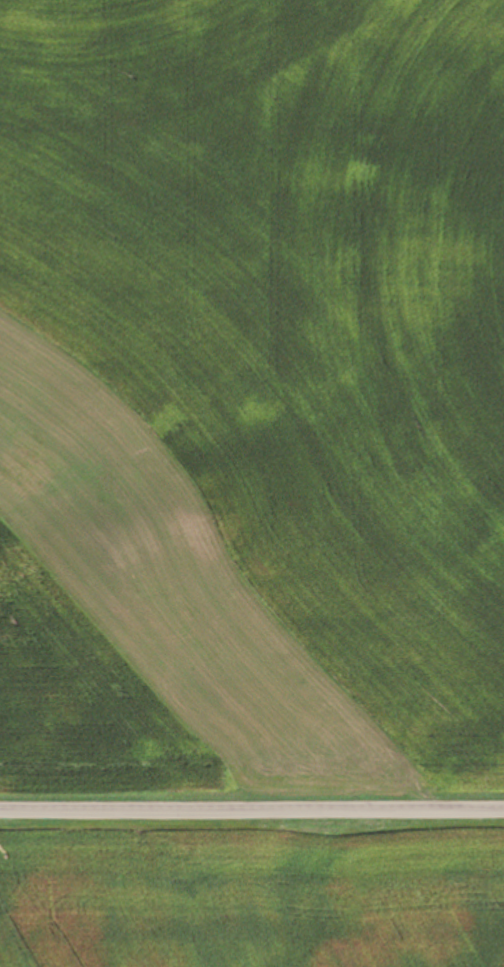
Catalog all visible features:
road: (251, 801)

